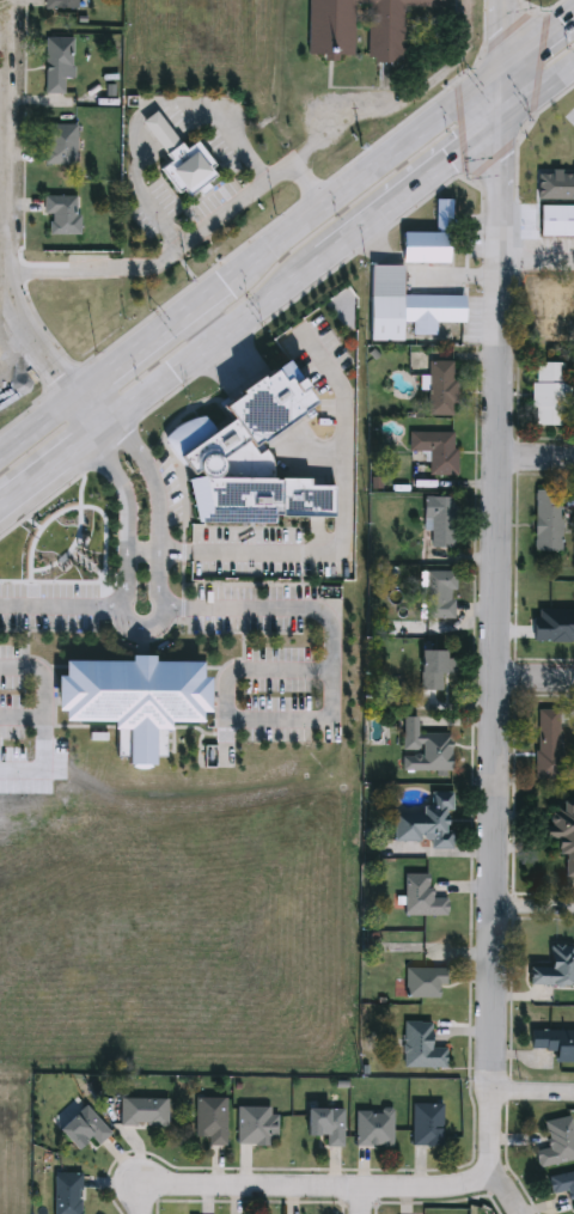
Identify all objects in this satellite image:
building: (61, 5)
building: (329, 32)
road: (501, 32)
building: (56, 65)
traffic signals: (501, 67)
road: (397, 105)
traffic signals: (499, 121)
building: (60, 146)
road: (135, 155)
building: (177, 159)
building: (555, 187)
road: (226, 213)
building: (61, 215)
building: (556, 222)
road: (5, 227)
road: (286, 231)
building: (428, 239)
road: (536, 261)
road: (459, 277)
road: (287, 282)
traffic signals: (193, 305)
building: (555, 307)
building: (404, 309)
building: (62, 319)
road: (204, 321)
traffic signals: (216, 337)
road: (231, 355)
building: (441, 389)
building: (548, 395)
road: (265, 401)
road: (310, 450)
building: (435, 451)
building: (242, 456)
road: (536, 459)
building: (548, 521)
building: (439, 523)
road: (158, 526)
road: (128, 536)
road: (341, 537)
building: (440, 597)
road: (311, 608)
road: (59, 609)
road: (497, 646)
building: (429, 671)
road: (233, 672)
road: (536, 681)
road: (43, 685)
building: (139, 701)
road: (22, 716)
road: (277, 720)
building: (546, 744)
building: (423, 749)
building: (427, 824)
building: (561, 832)
building: (420, 897)
road: (533, 904)
building: (554, 968)
building: (421, 983)
building: (554, 1043)
building: (420, 1047)
road: (532, 1093)
building: (142, 1112)
building: (210, 1120)
building: (256, 1125)
building: (324, 1125)
building: (425, 1125)
building: (373, 1128)
building: (81, 1129)
building: (556, 1143)
road: (303, 1182)
building: (562, 1185)
building: (67, 1194)
road: (361, 1198)

